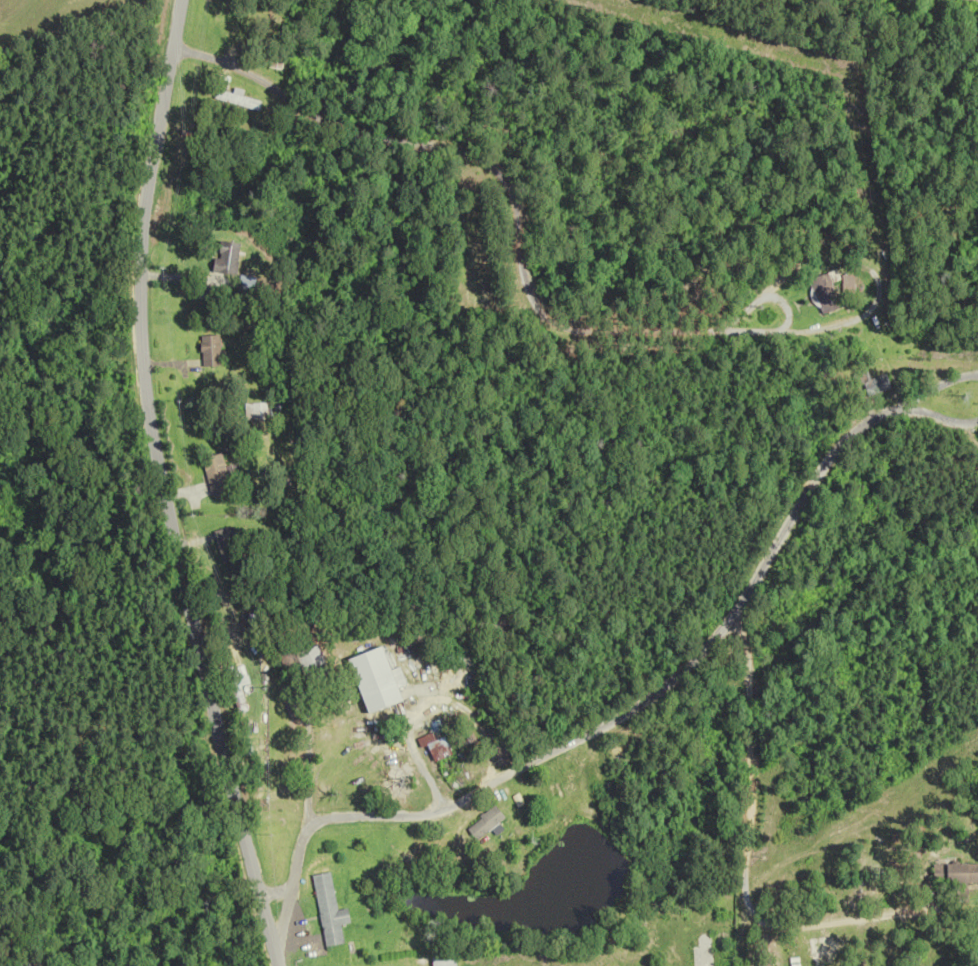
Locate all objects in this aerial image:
building: (240, 100)
road: (490, 169)
building: (226, 257)
building: (850, 281)
building: (827, 293)
road: (778, 327)
building: (208, 350)
building: (876, 383)
road: (904, 406)
building: (254, 411)
building: (216, 475)
road: (162, 486)
building: (228, 545)
building: (312, 662)
building: (379, 681)
building: (238, 686)
road: (596, 728)
building: (487, 822)
road: (744, 849)
building: (958, 874)
road: (275, 892)
building: (329, 911)
building: (706, 951)
building: (443, 960)
building: (765, 965)

